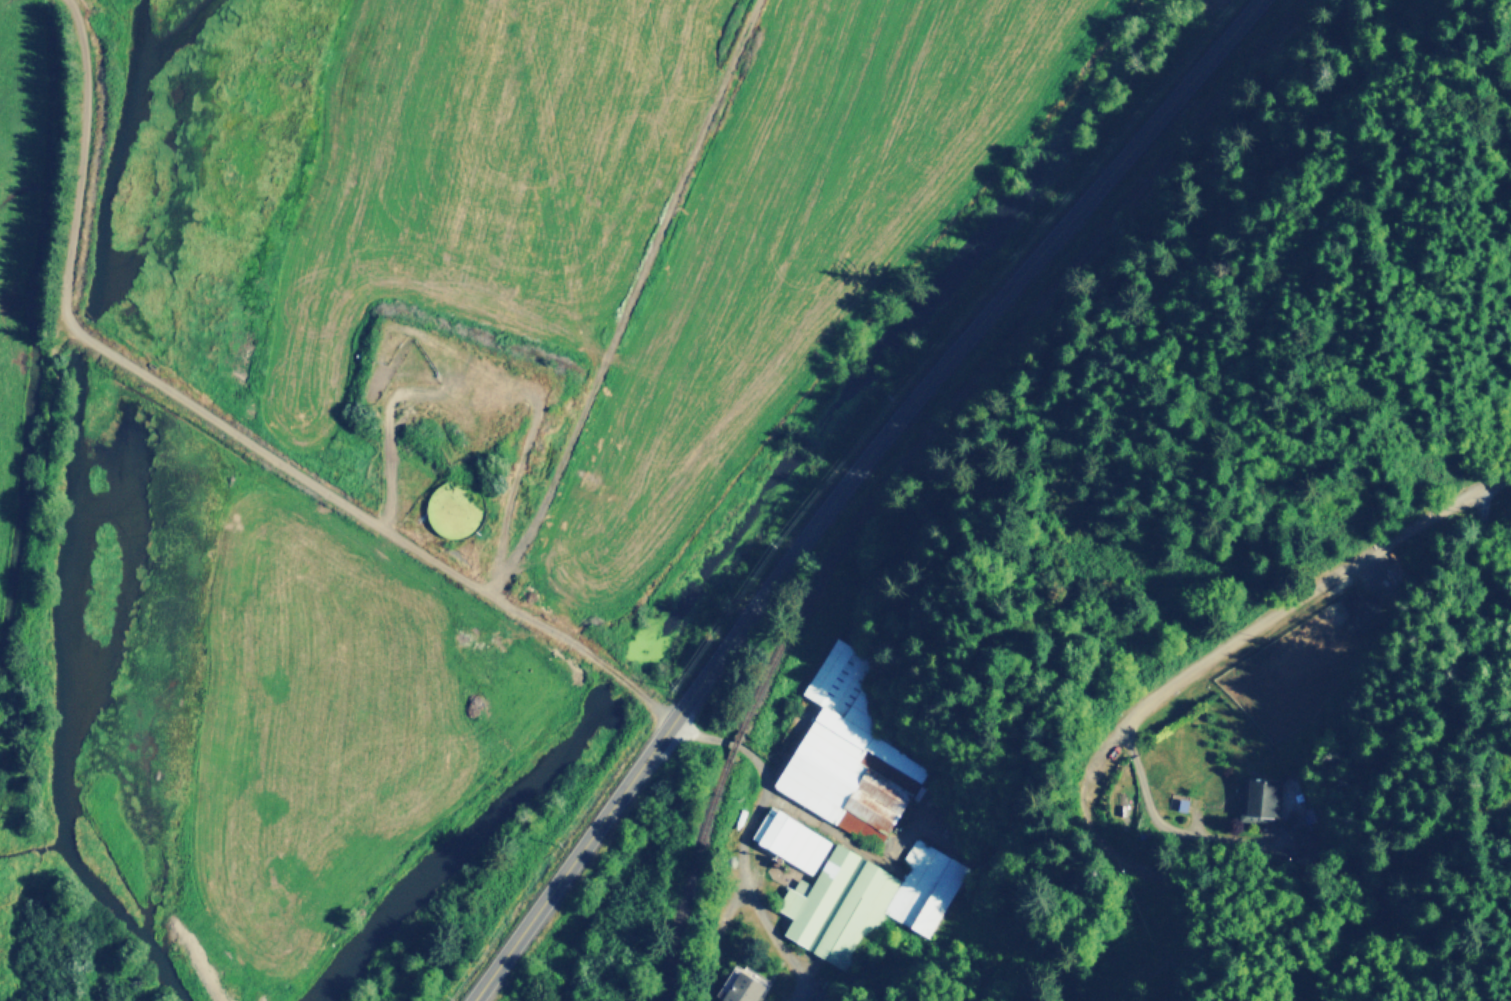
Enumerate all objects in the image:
railway: (1000, 343)
road: (234, 431)
road: (846, 484)
road: (1161, 695)
railway: (736, 744)
building: (841, 748)
building: (1260, 796)
road: (745, 835)
building: (789, 838)
railway: (699, 884)
building: (864, 898)
road: (1263, 952)

